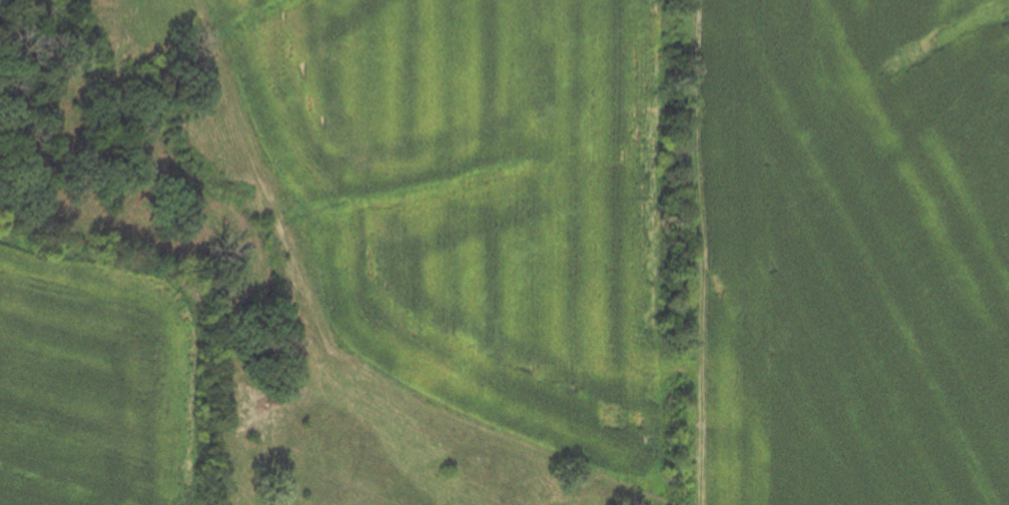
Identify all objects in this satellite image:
road: (712, 275)

